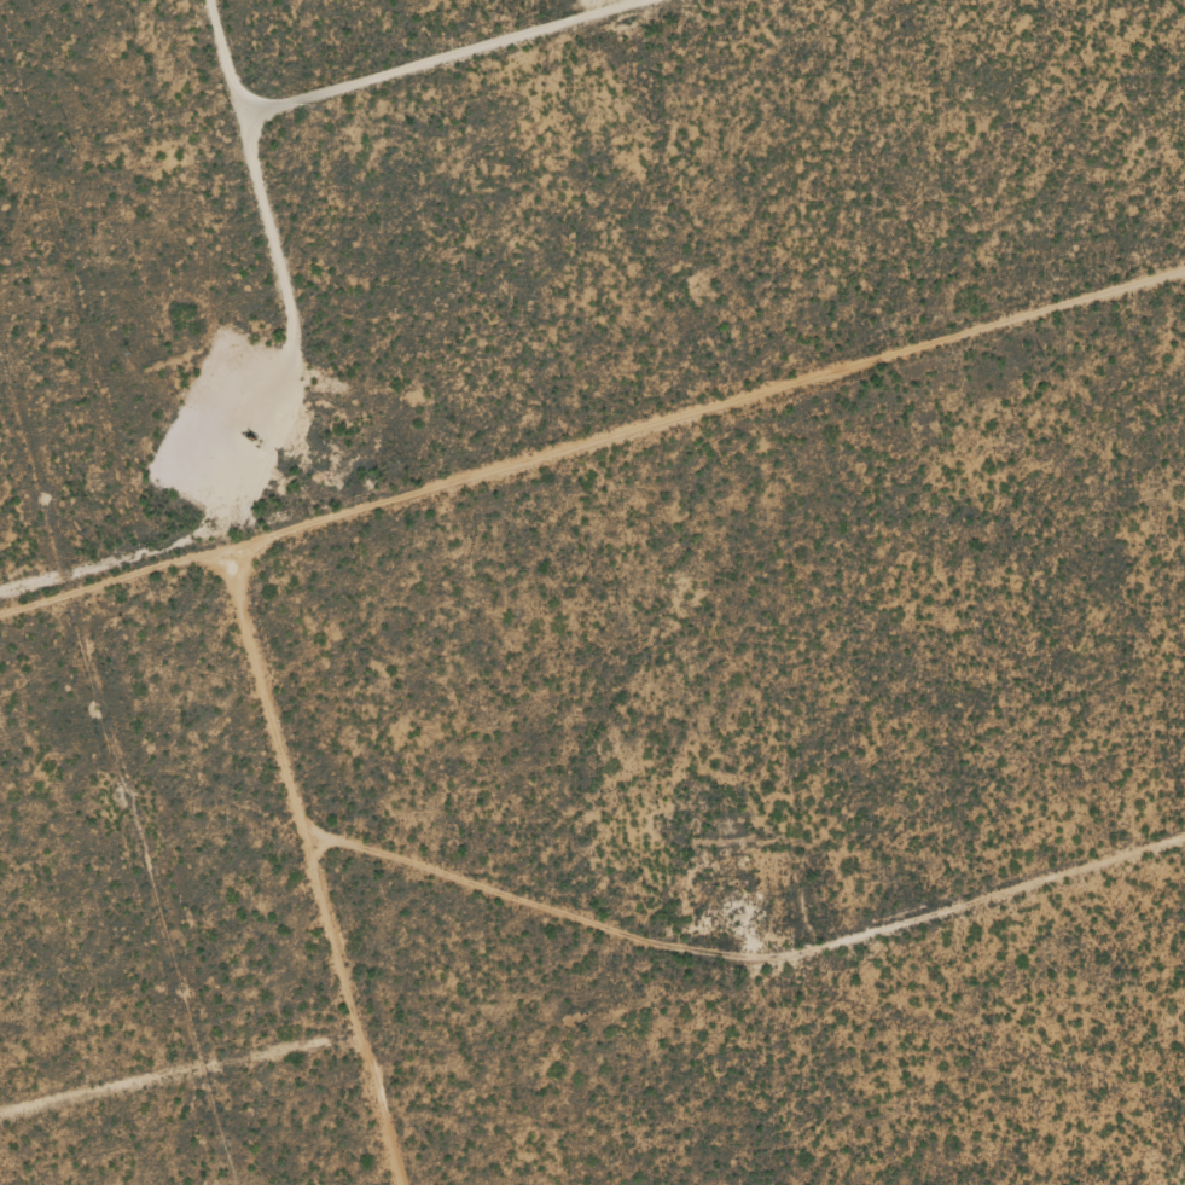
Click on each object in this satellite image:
road: (592, 426)
road: (320, 856)
road: (749, 971)

